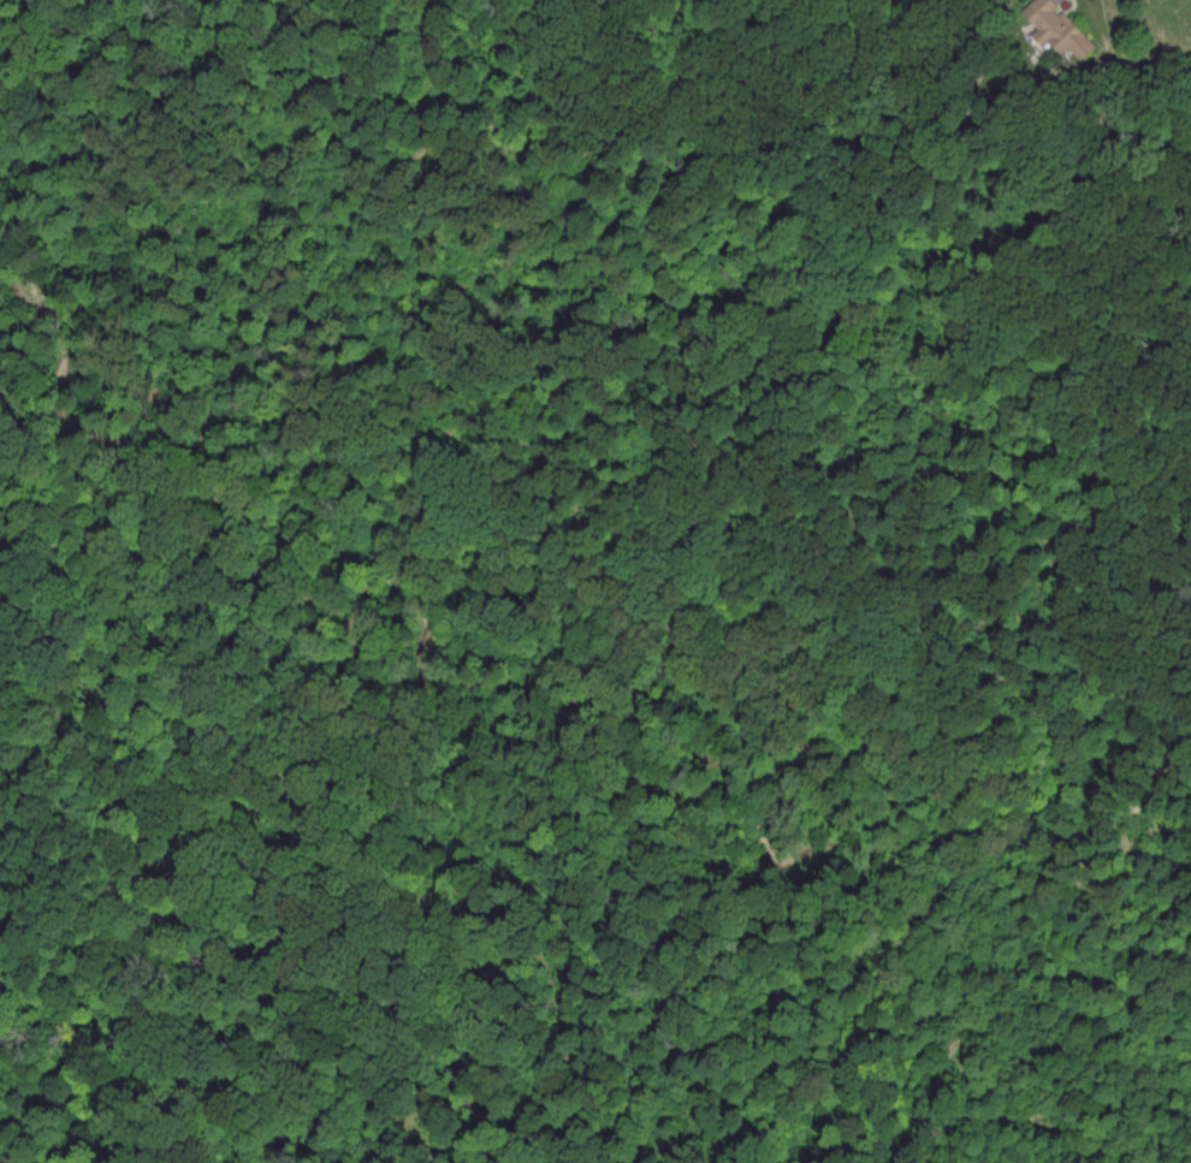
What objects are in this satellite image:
building: (1053, 26)

